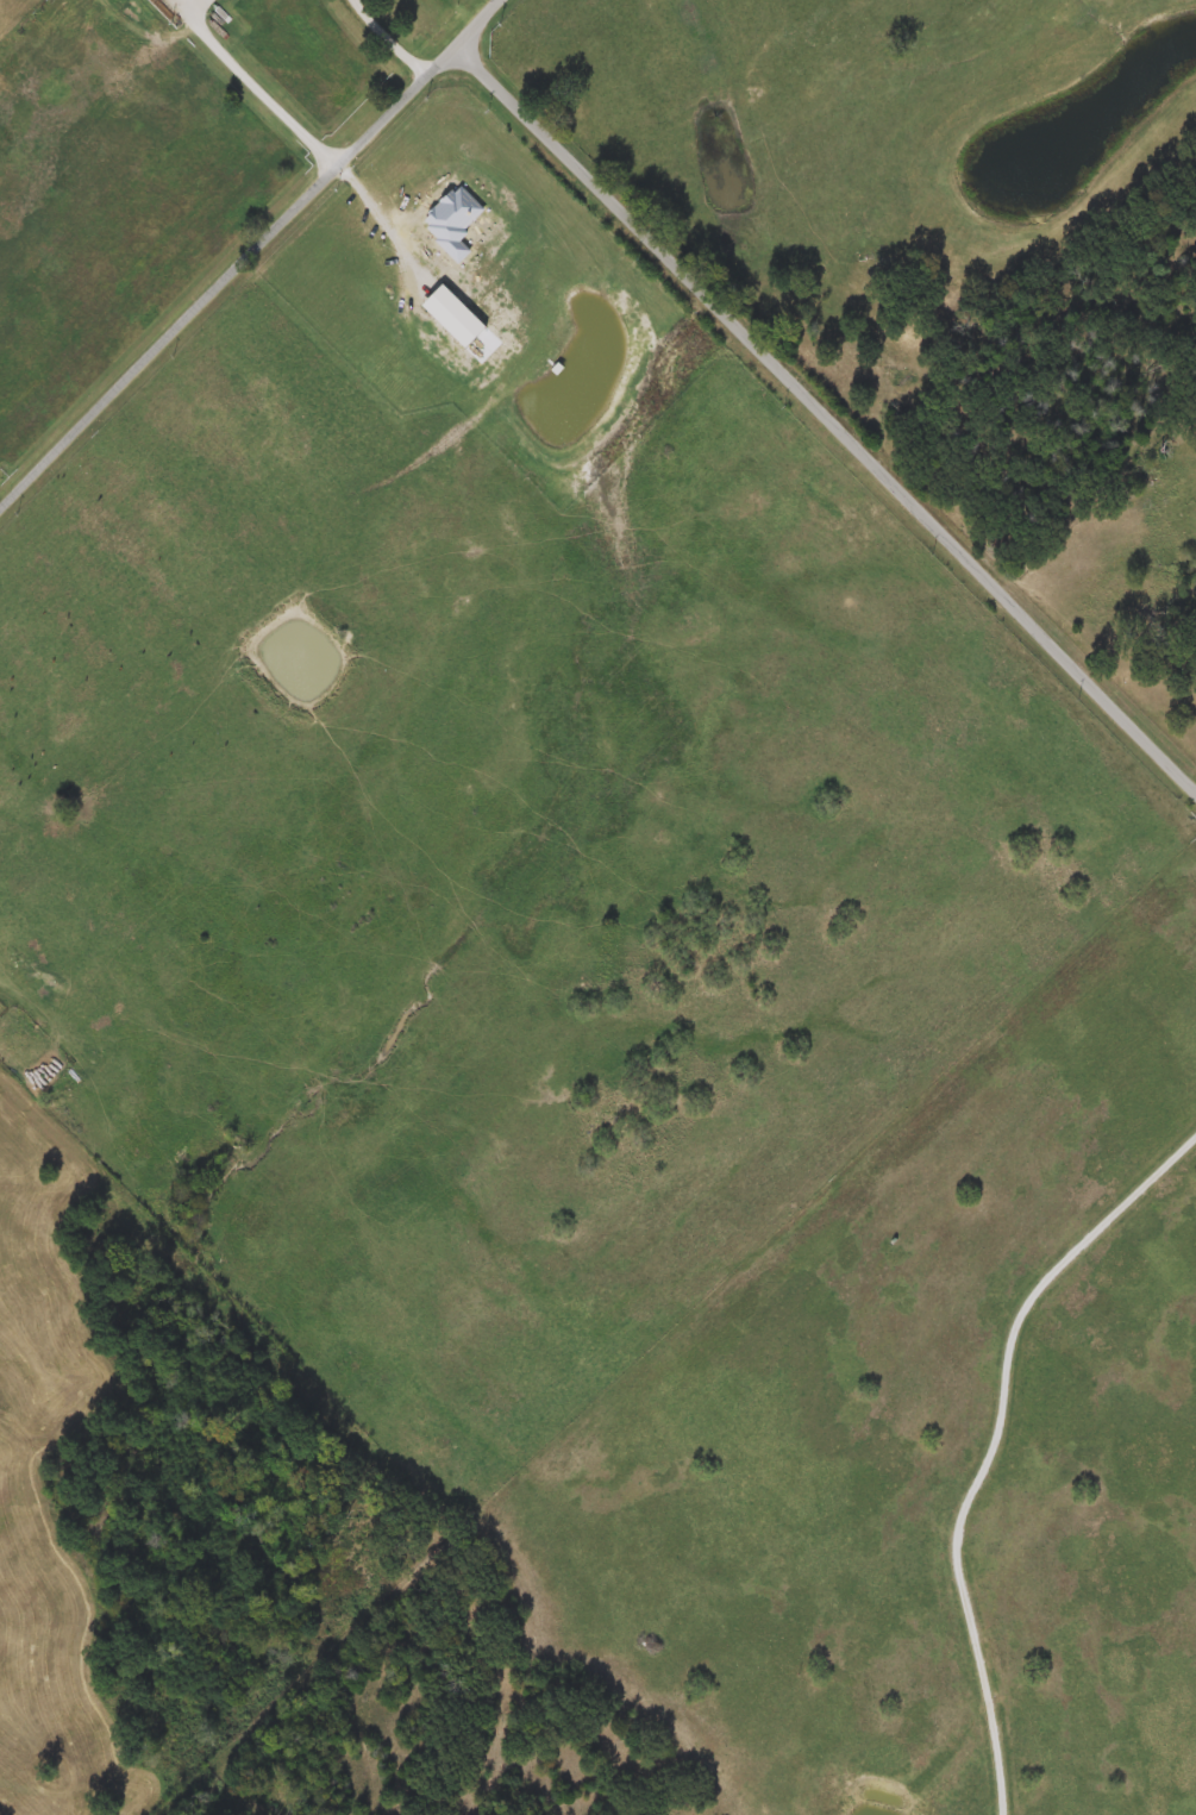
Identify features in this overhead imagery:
road: (389, 39)
road: (259, 82)
road: (380, 212)
road: (249, 254)
road: (826, 418)
road: (997, 1447)

